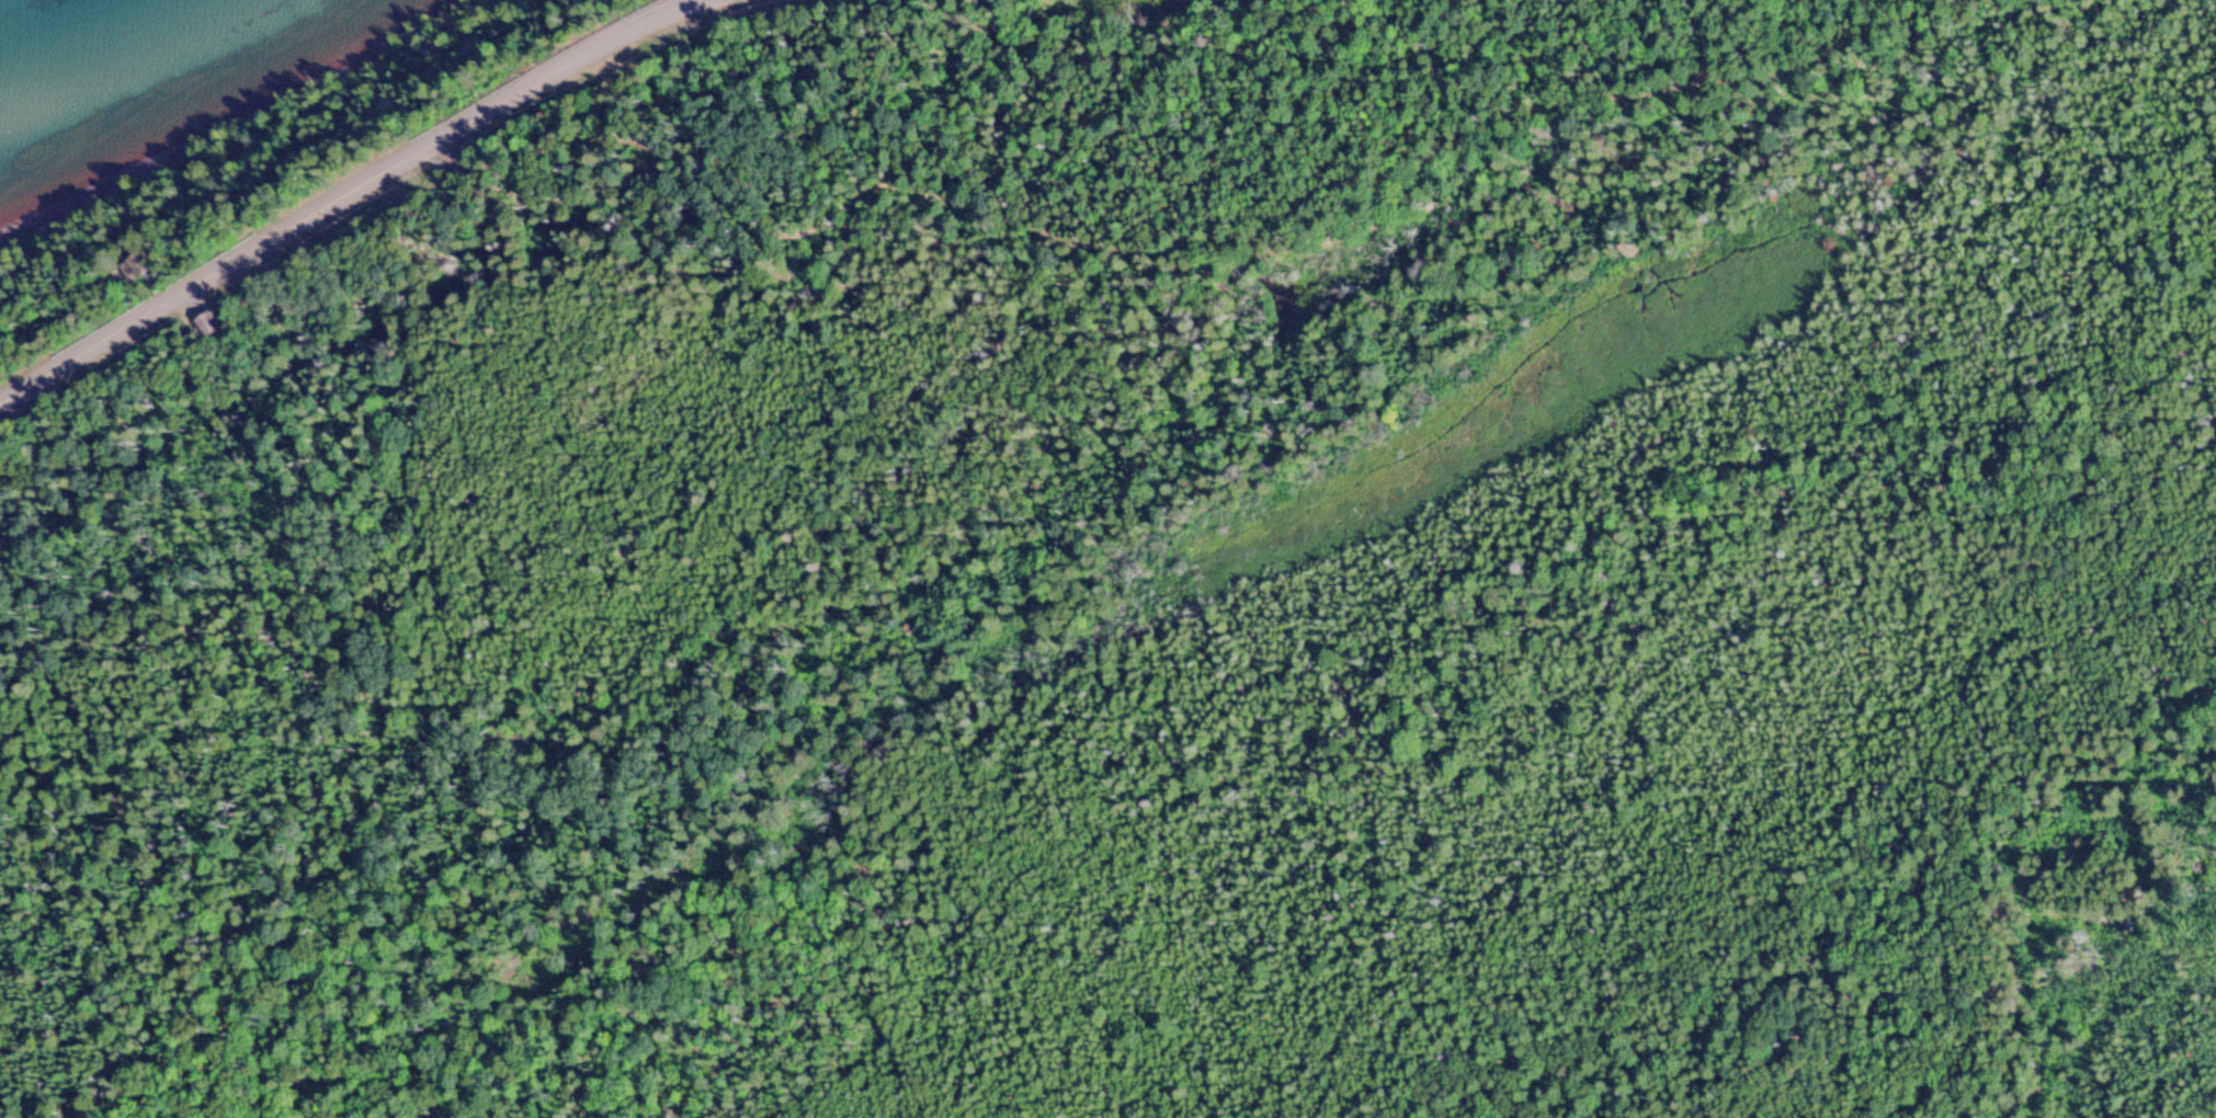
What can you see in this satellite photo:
road: (357, 193)

